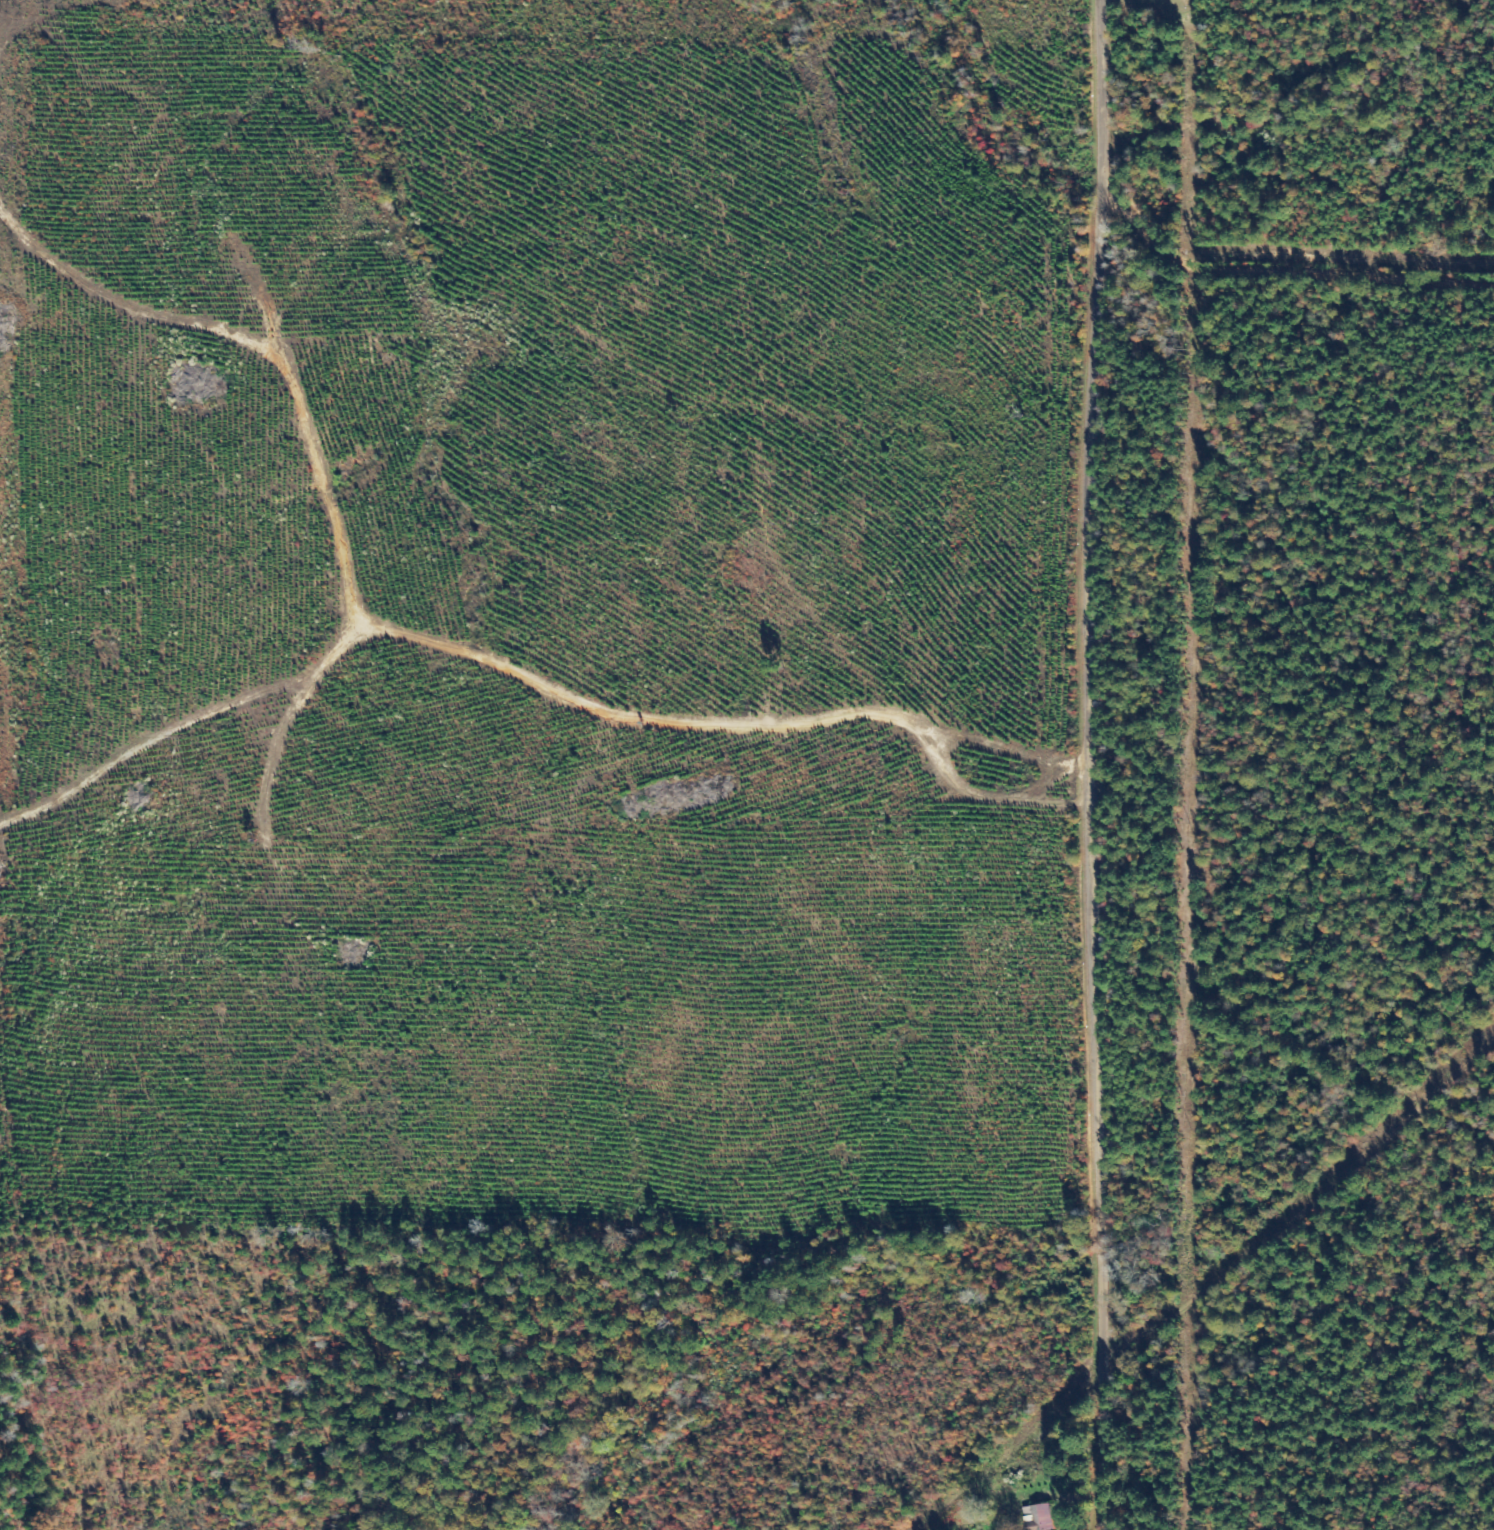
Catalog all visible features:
road: (1294, 266)
road: (1093, 765)
building: (1040, 1516)

